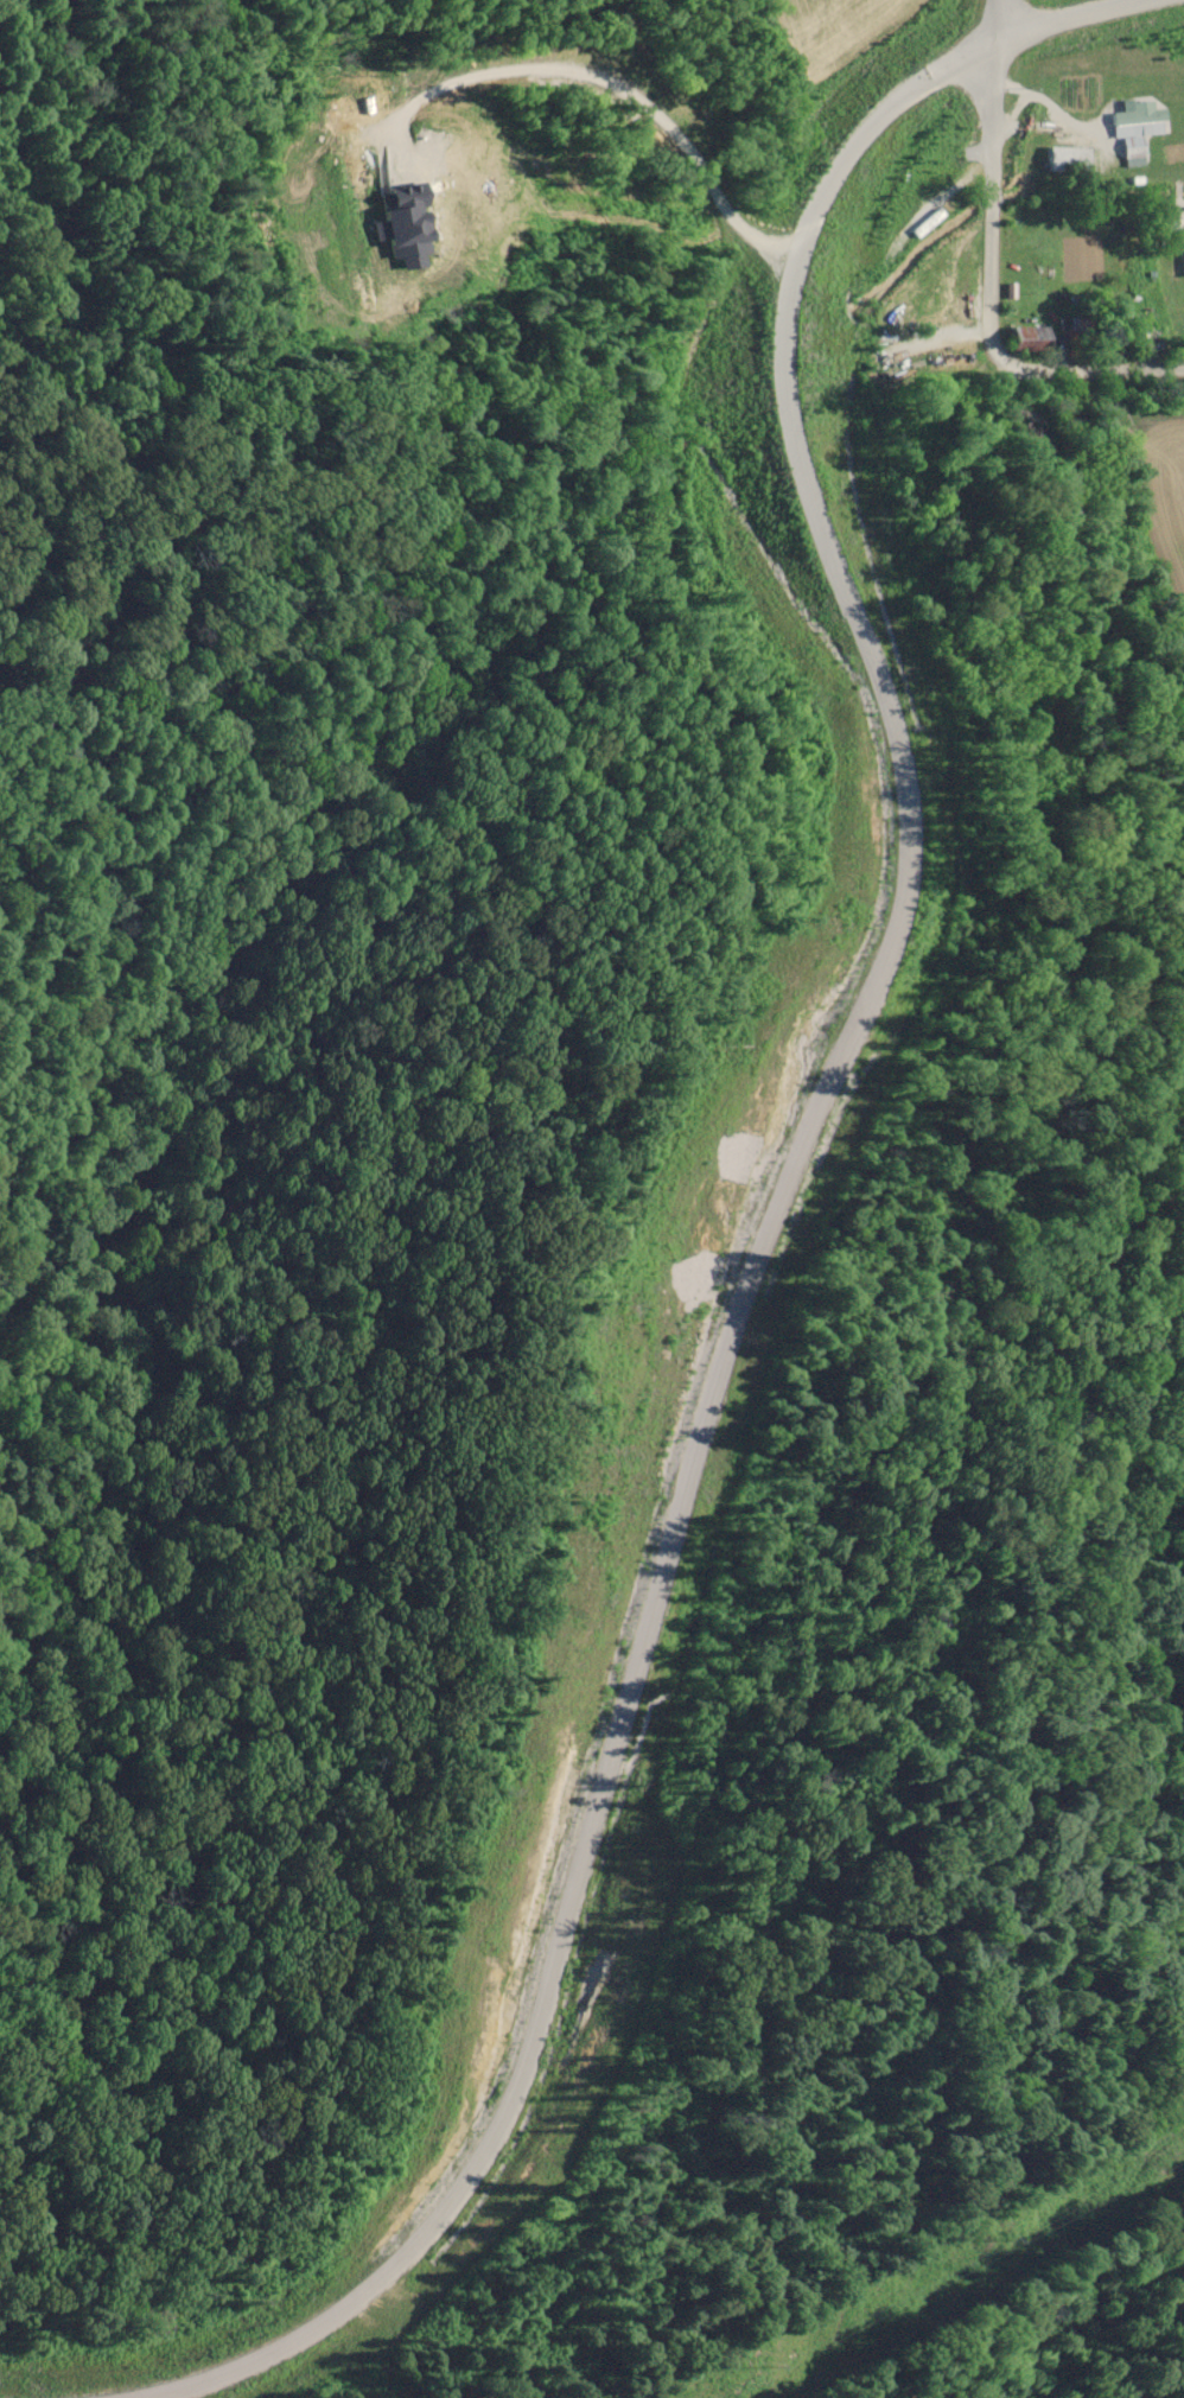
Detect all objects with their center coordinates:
building: (1138, 126)
building: (1068, 159)
building: (1182, 253)
road: (989, 274)

